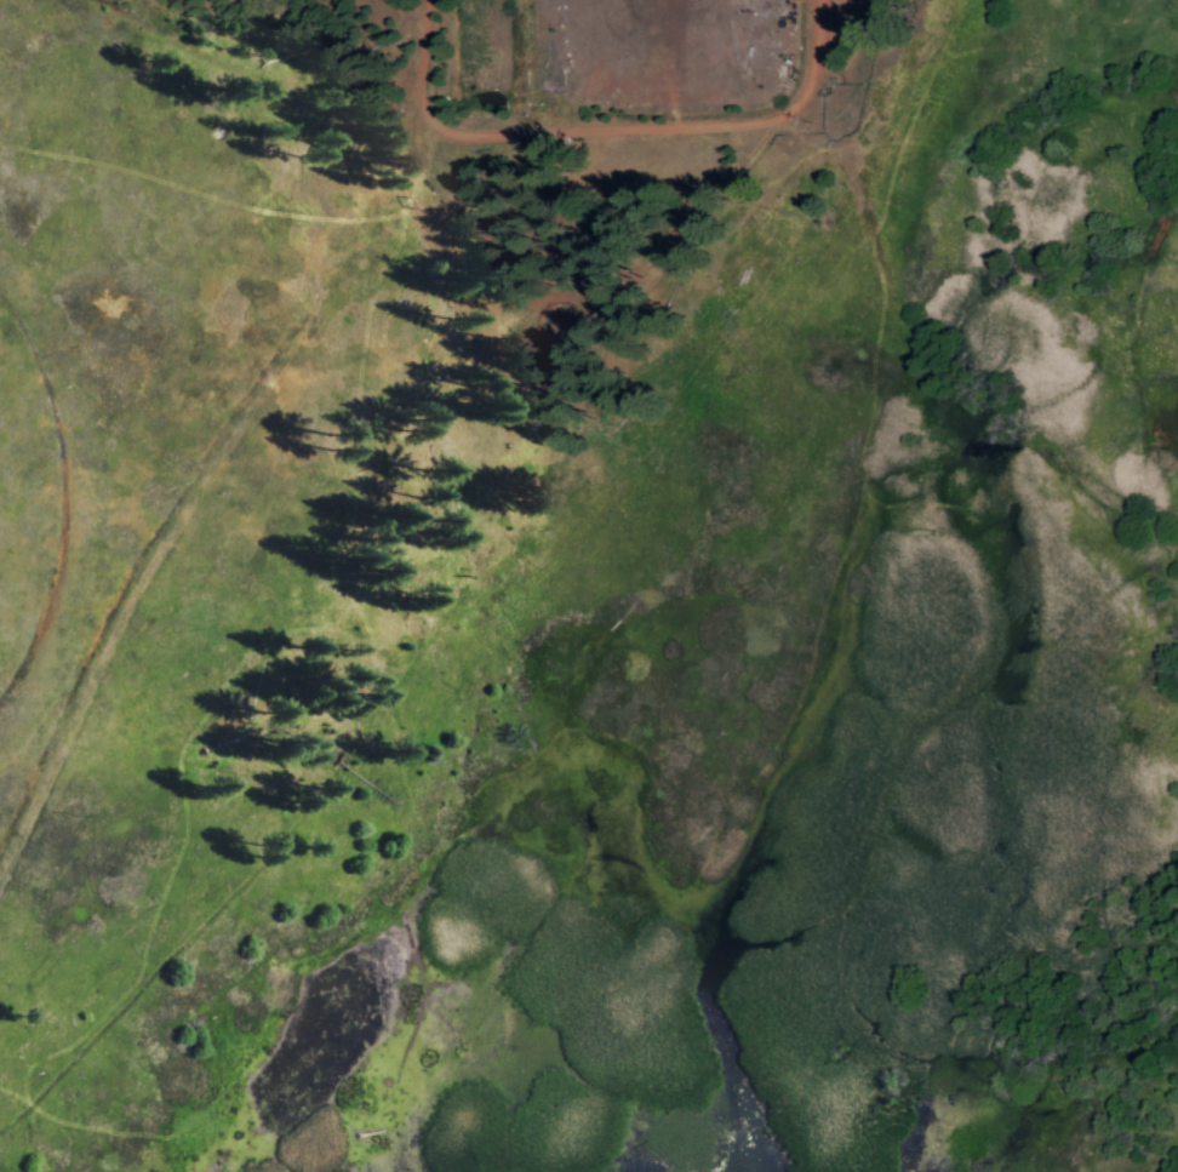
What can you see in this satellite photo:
road: (566, 125)

